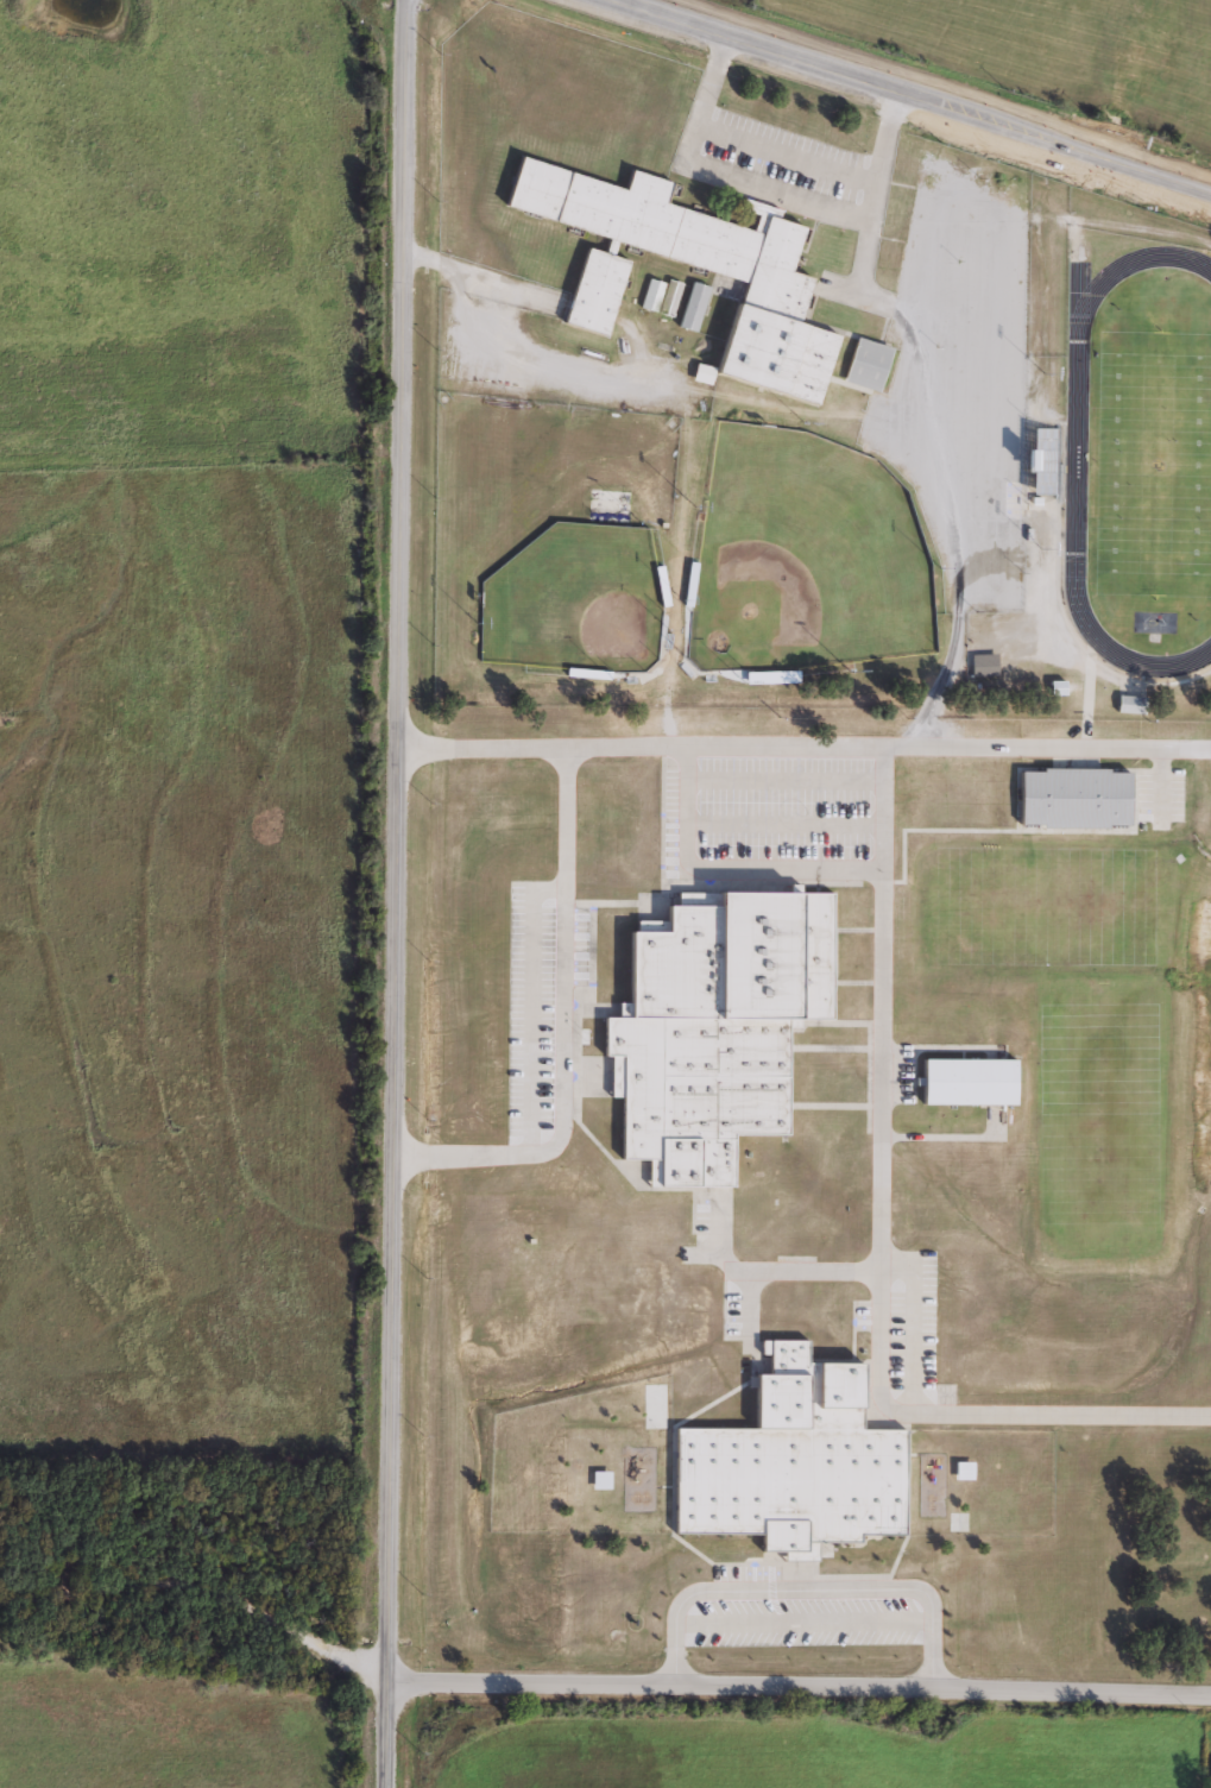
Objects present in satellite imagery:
road: (919, 94)
road: (774, 190)
building: (660, 296)
building: (770, 302)
building: (692, 307)
road: (506, 308)
building: (865, 365)
park: (1152, 464)
park: (803, 558)
park: (584, 599)
building: (982, 665)
building: (1129, 704)
road: (803, 744)
building: (1072, 797)
road: (395, 893)
building: (713, 1025)
road: (560, 1026)
building: (966, 1081)
road: (878, 1245)
building: (794, 1461)
building: (963, 1469)
building: (599, 1479)
road: (206, 1585)
road: (803, 1626)
road: (800, 1685)

